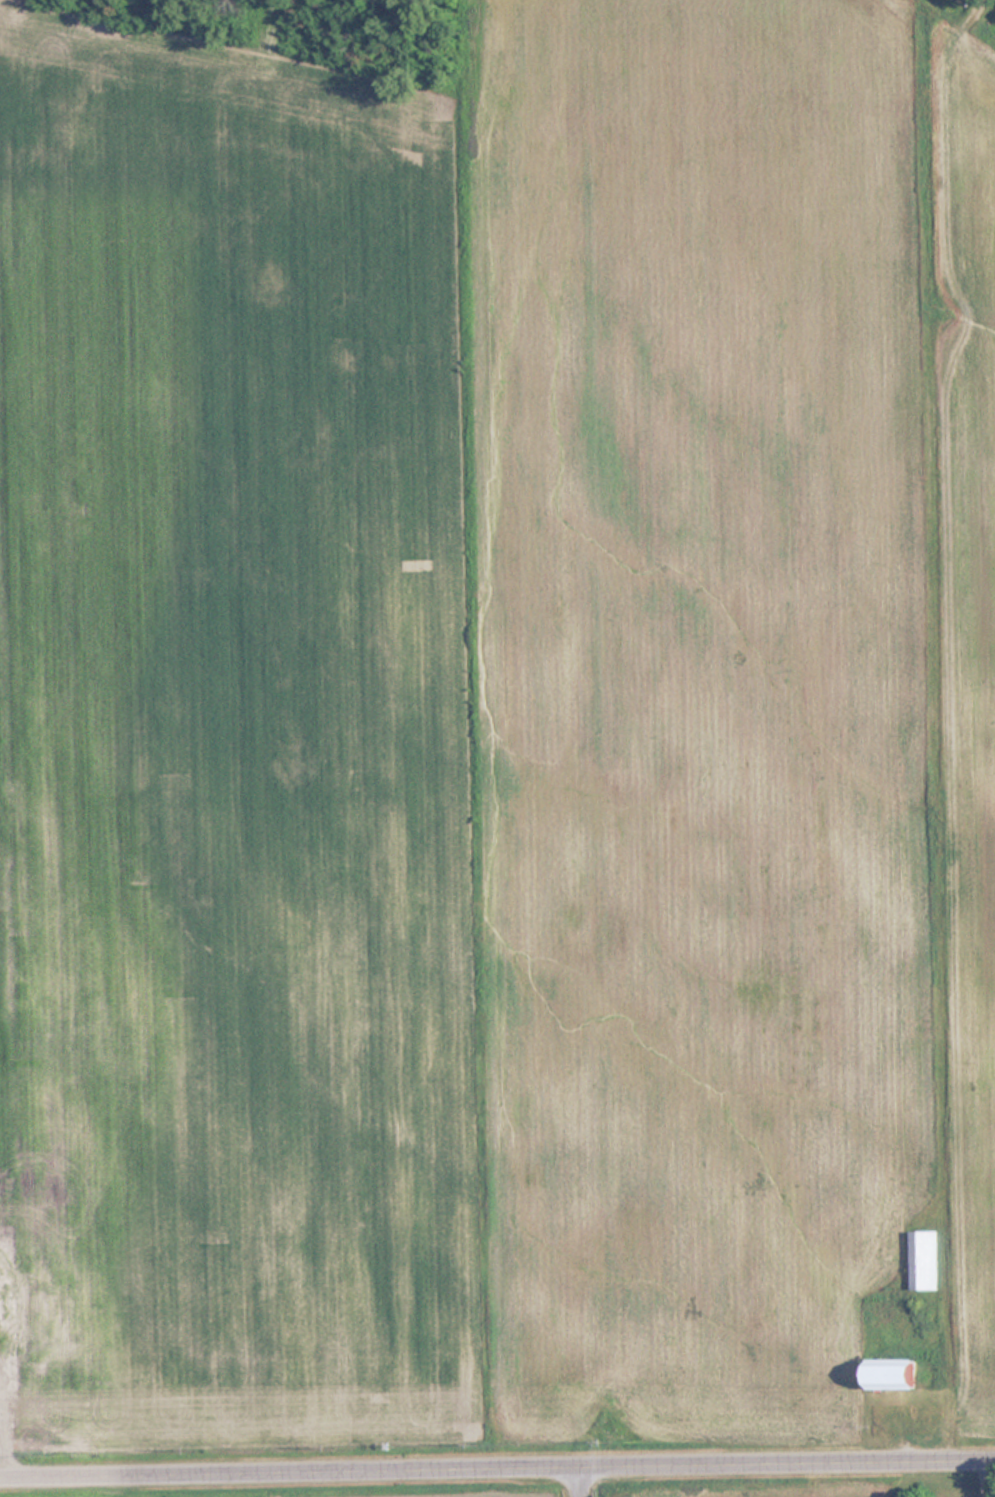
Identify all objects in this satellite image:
building: (921, 1260)
building: (47, 1307)
building: (889, 1375)
road: (497, 1470)
road: (581, 1483)

